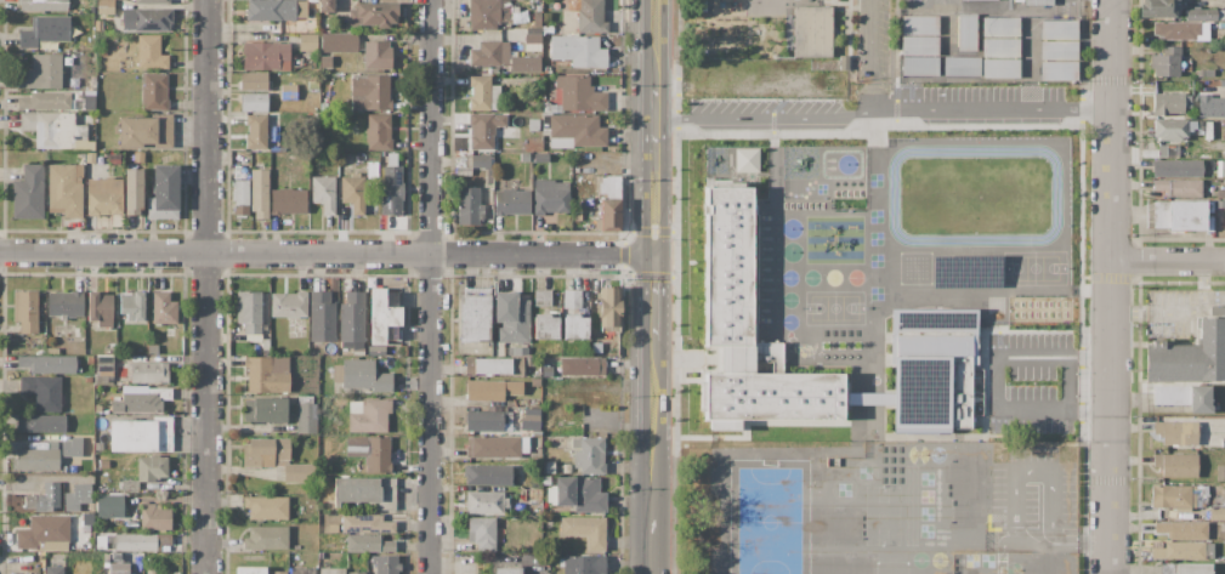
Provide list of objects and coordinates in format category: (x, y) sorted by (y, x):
building: (312, 0)
building: (152, 1)
building: (1037, 2)
building: (42, 5)
building: (327, 5)
building: (104, 6)
building: (1157, 8)
building: (270, 10)
building: (373, 15)
building: (482, 15)
building: (1204, 15)
building: (588, 16)
building: (146, 18)
building: (537, 19)
building: (918, 24)
building: (548, 28)
building: (1175, 29)
building: (45, 30)
building: (812, 30)
building: (925, 35)
building: (532, 39)
building: (307, 42)
building: (339, 42)
road: (654, 44)
road: (875, 49)
building: (1059, 50)
building: (578, 51)
building: (965, 52)
building: (999, 52)
building: (151, 53)
building: (489, 53)
building: (376, 55)
building: (265, 56)
building: (325, 62)
building: (1166, 62)
building: (524, 63)
building: (918, 66)
building: (546, 69)
building: (40, 73)
building: (1204, 73)
building: (254, 81)
building: (154, 91)
building: (289, 92)
building: (370, 92)
building: (482, 93)
building: (577, 95)
building: (46, 101)
building: (1209, 101)
building: (254, 102)
building: (1167, 102)
road: (875, 104)
road: (881, 109)
building: (1208, 110)
road: (654, 124)
building: (533, 125)
building: (574, 129)
building: (1172, 129)
building: (55, 130)
building: (483, 130)
building: (146, 131)
building: (255, 131)
building: (379, 132)
building: (1166, 150)
building: (1193, 153)
building: (524, 157)
building: (540, 157)
building: (919, 159)
building: (480, 160)
building: (745, 160)
building: (1178, 169)
building: (372, 170)
building: (609, 186)
building: (391, 188)
building: (1176, 188)
building: (66, 189)
building: (132, 191)
building: (28, 193)
building: (164, 193)
building: (259, 193)
building: (324, 193)
building: (353, 193)
building: (1220, 193)
building: (104, 197)
building: (242, 197)
building: (551, 197)
building: (288, 201)
building: (511, 201)
building: (1220, 203)
building: (469, 206)
road: (653, 208)
building: (609, 215)
building: (1183, 215)
building: (976, 239)
building: (930, 248)
road: (327, 254)
road: (1168, 262)
building: (965, 271)
building: (997, 279)
road: (205, 286)
road: (429, 286)
road: (1111, 286)
road: (653, 297)
building: (66, 303)
building: (289, 303)
building: (131, 306)
building: (101, 308)
building: (163, 308)
building: (611, 309)
building: (25, 311)
building: (249, 311)
building: (1217, 311)
building: (475, 314)
building: (380, 316)
building: (545, 316)
building: (322, 317)
building: (352, 317)
building: (573, 317)
building: (511, 318)
building: (1015, 322)
building: (934, 328)
building: (358, 351)
building: (1187, 356)
building: (47, 364)
building: (494, 365)
building: (582, 366)
building: (103, 370)
building: (148, 371)
building: (546, 371)
building: (267, 374)
building: (1014, 374)
building: (362, 375)
building: (87, 379)
building: (535, 382)
building: (492, 390)
building: (42, 392)
building: (1184, 397)
building: (142, 400)
building: (265, 410)
building: (306, 415)
building: (368, 415)
road: (1056, 416)
building: (528, 419)
building: (486, 420)
road: (652, 422)
building: (40, 424)
building: (1176, 432)
building: (141, 434)
building: (495, 447)
building: (378, 455)
building: (588, 455)
building: (44, 456)
building: (276, 459)
building: (103, 464)
building: (1175, 464)
building: (766, 466)
building: (548, 467)
building: (567, 468)
building: (148, 471)
building: (1220, 472)
building: (487, 474)
road: (1053, 483)
building: (970, 485)
building: (365, 491)
building: (579, 494)
building: (1175, 495)
building: (59, 499)
building: (125, 500)
building: (484, 502)
building: (266, 507)
building: (1217, 513)
building: (154, 517)
building: (365, 523)
building: (790, 524)
building: (333, 528)
building: (1181, 529)
building: (585, 530)
building: (483, 533)
building: (44, 534)
building: (266, 538)
road: (652, 539)
building: (140, 541)
road: (1020, 542)
building: (369, 544)
building: (1184, 550)
building: (1047, 563)
building: (385, 564)
building: (583, 564)
building: (117, 568)
building: (1184, 568)
building: (53, 569)
building: (250, 570)
building: (302, 570)
building: (331, 570)
building: (506, 570)
building: (277, 572)
building: (357, 573)

